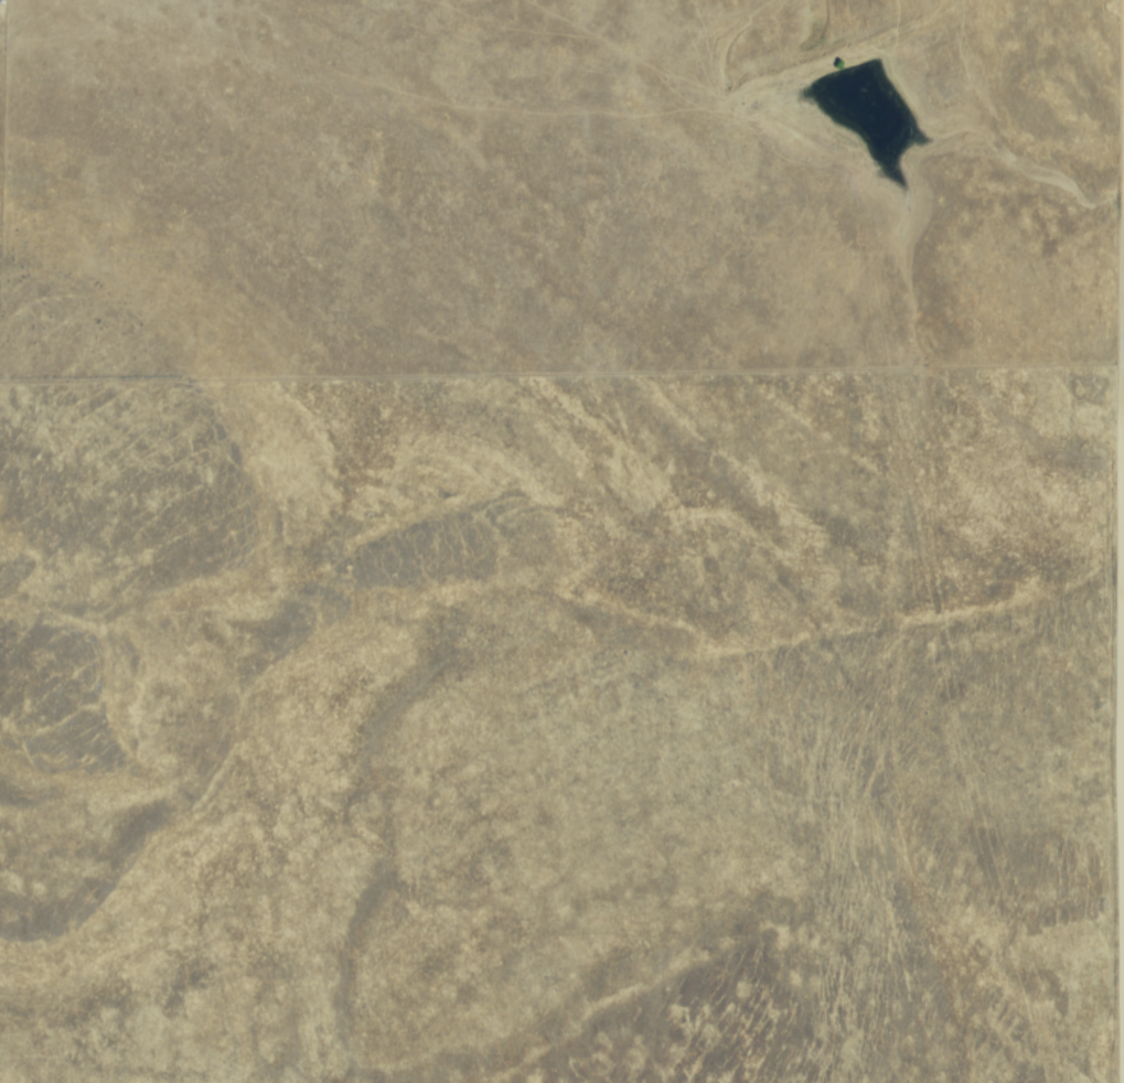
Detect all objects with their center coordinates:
road: (841, 14)
road: (1123, 653)

